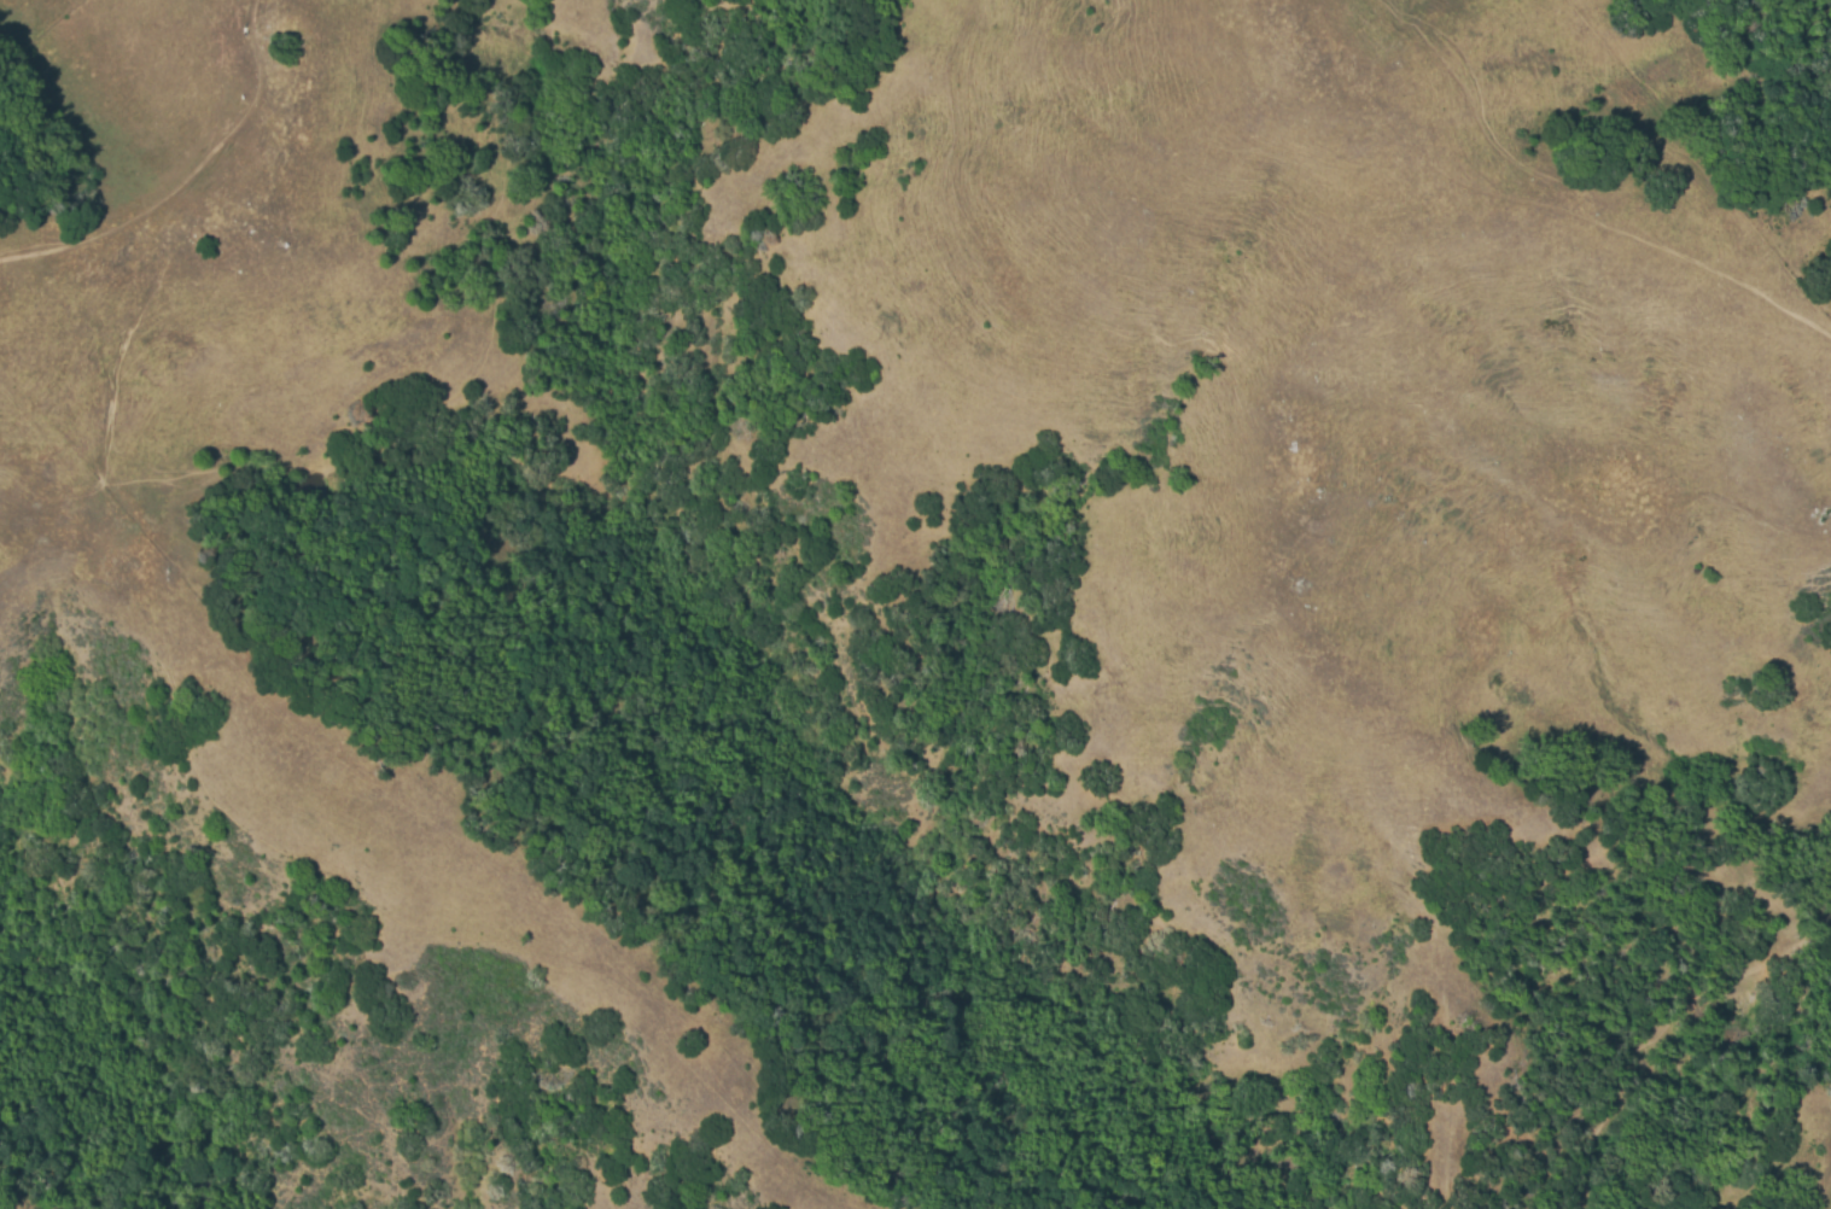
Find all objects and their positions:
road: (1825, 1199)

